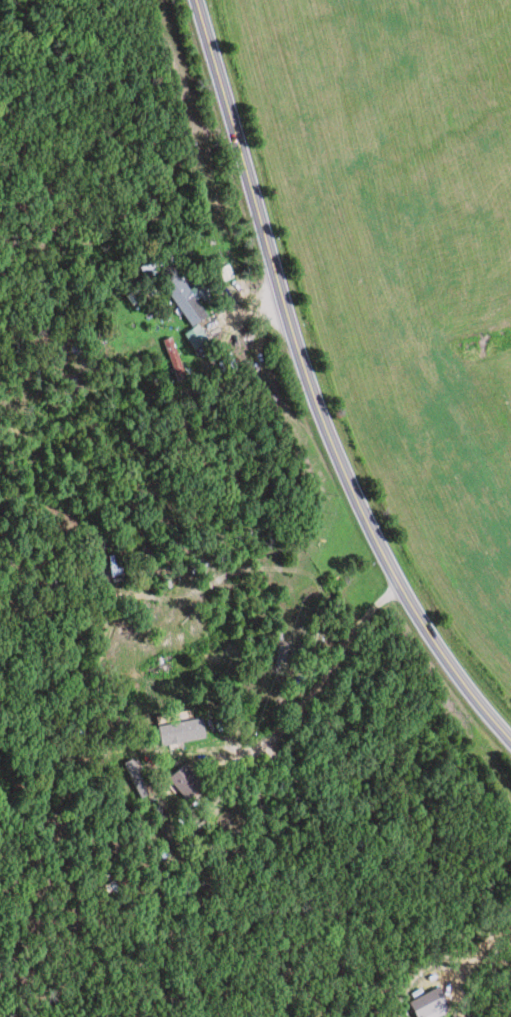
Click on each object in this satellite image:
building: (198, 306)
road: (310, 390)
building: (190, 732)
building: (194, 782)
building: (439, 1003)

